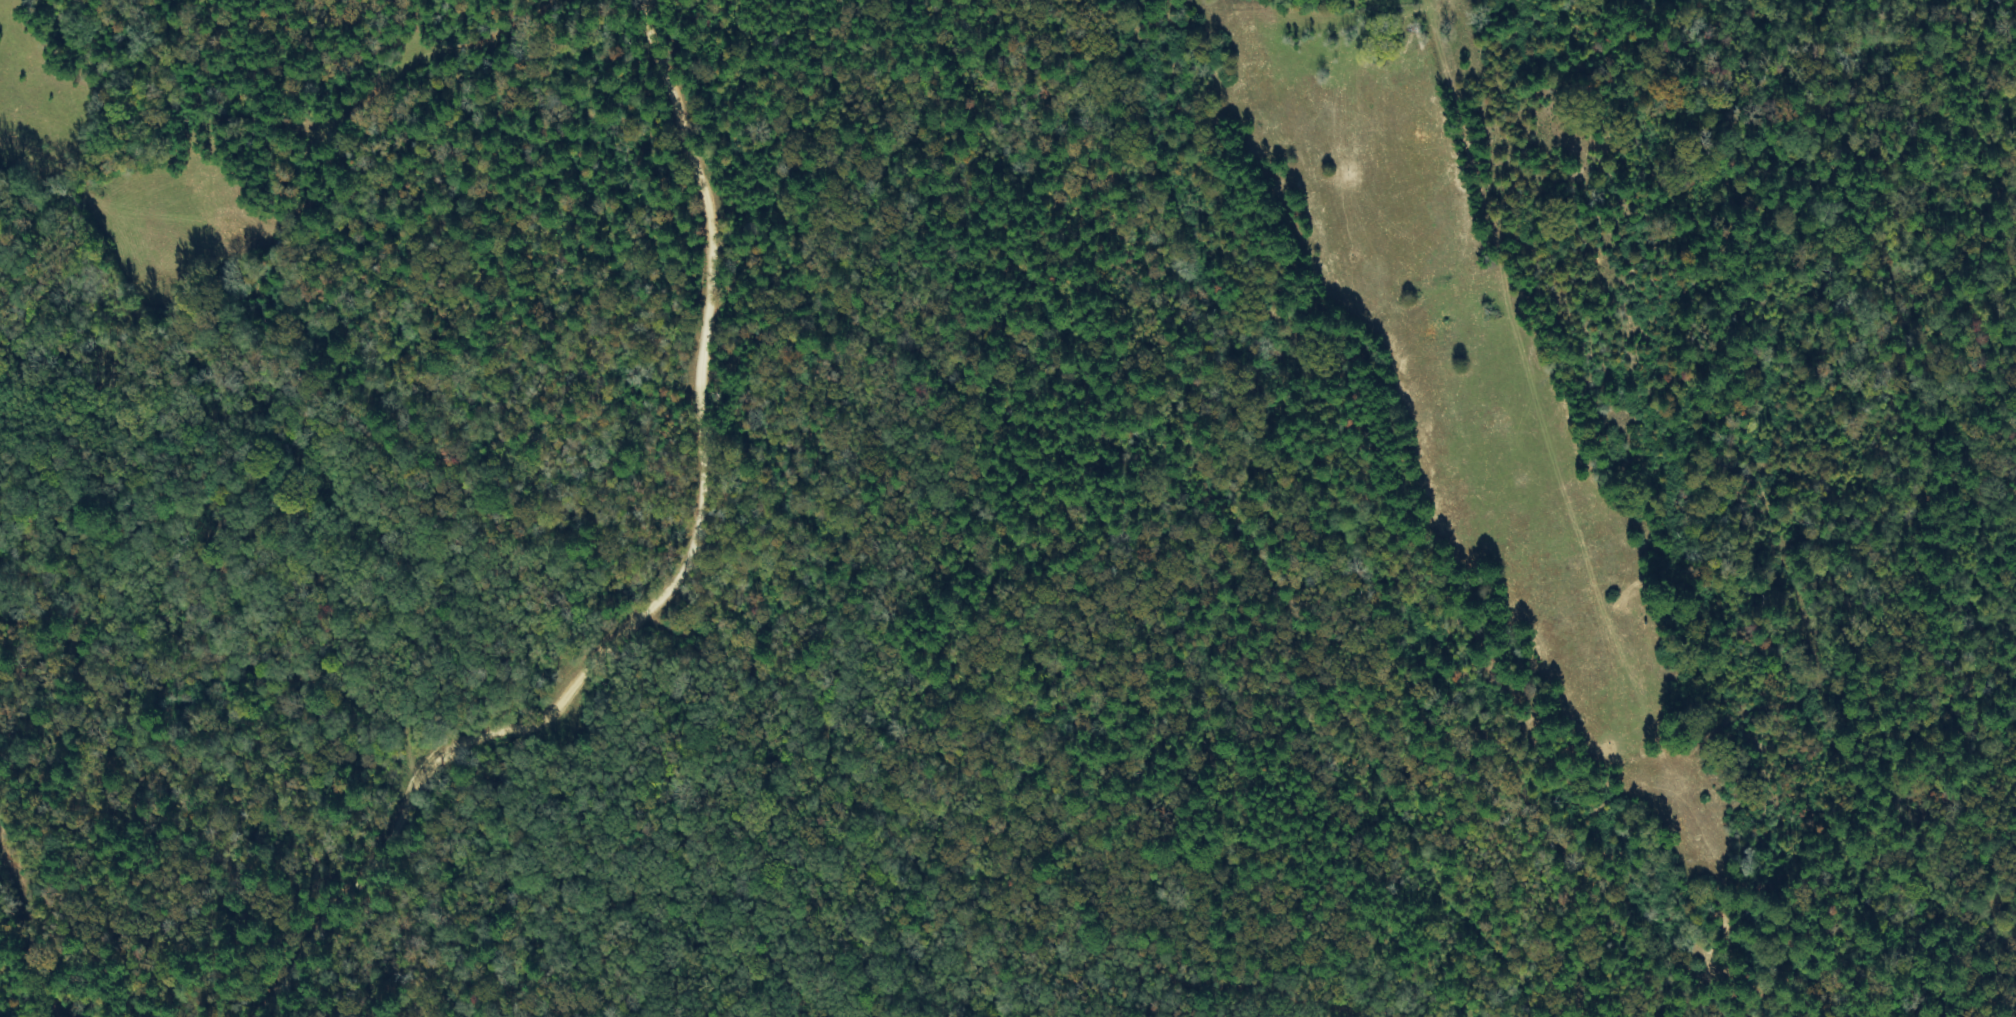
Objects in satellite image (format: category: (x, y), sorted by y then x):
road: (691, 448)
road: (351, 913)

